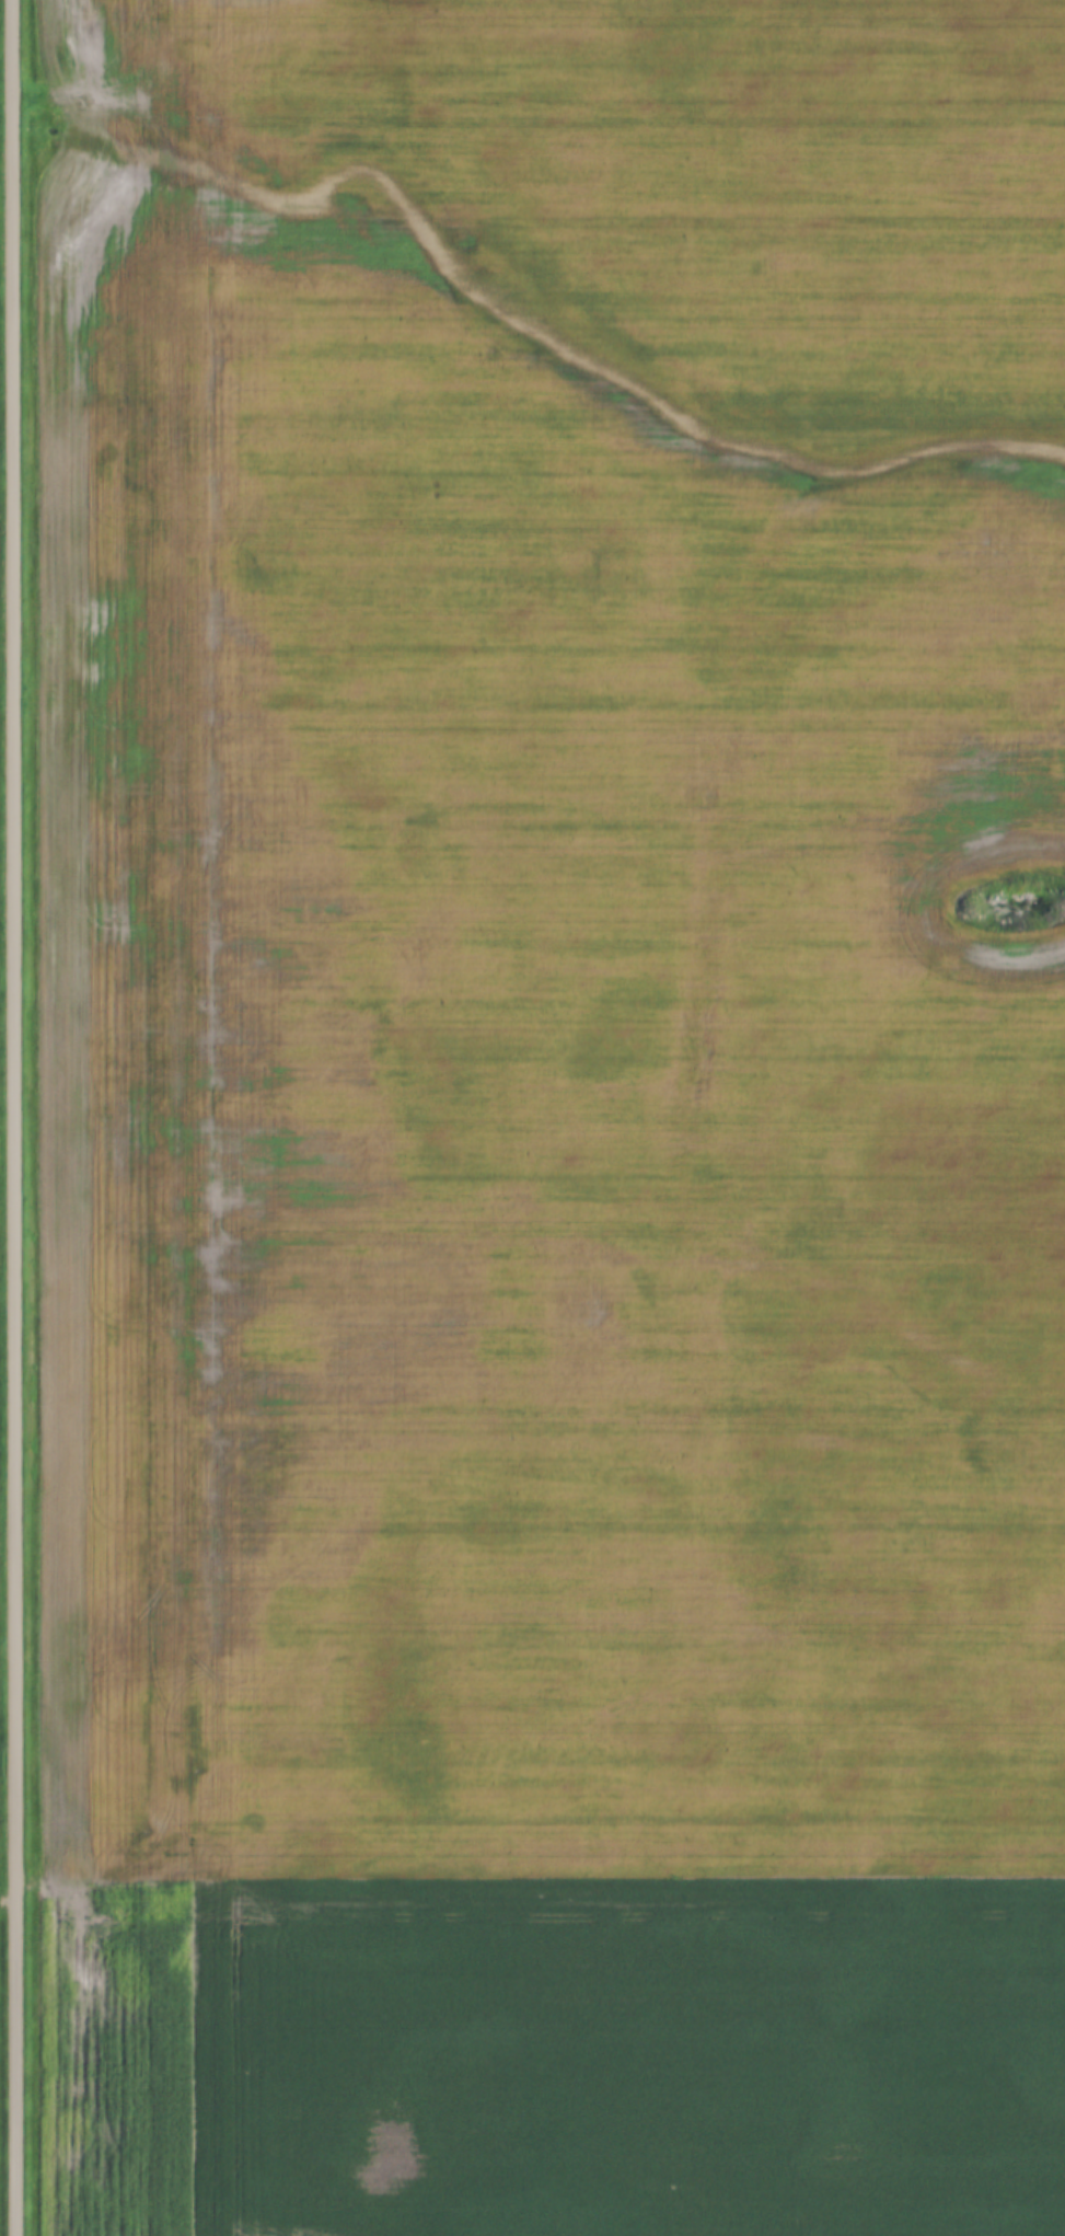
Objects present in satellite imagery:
road: (19, 1117)

